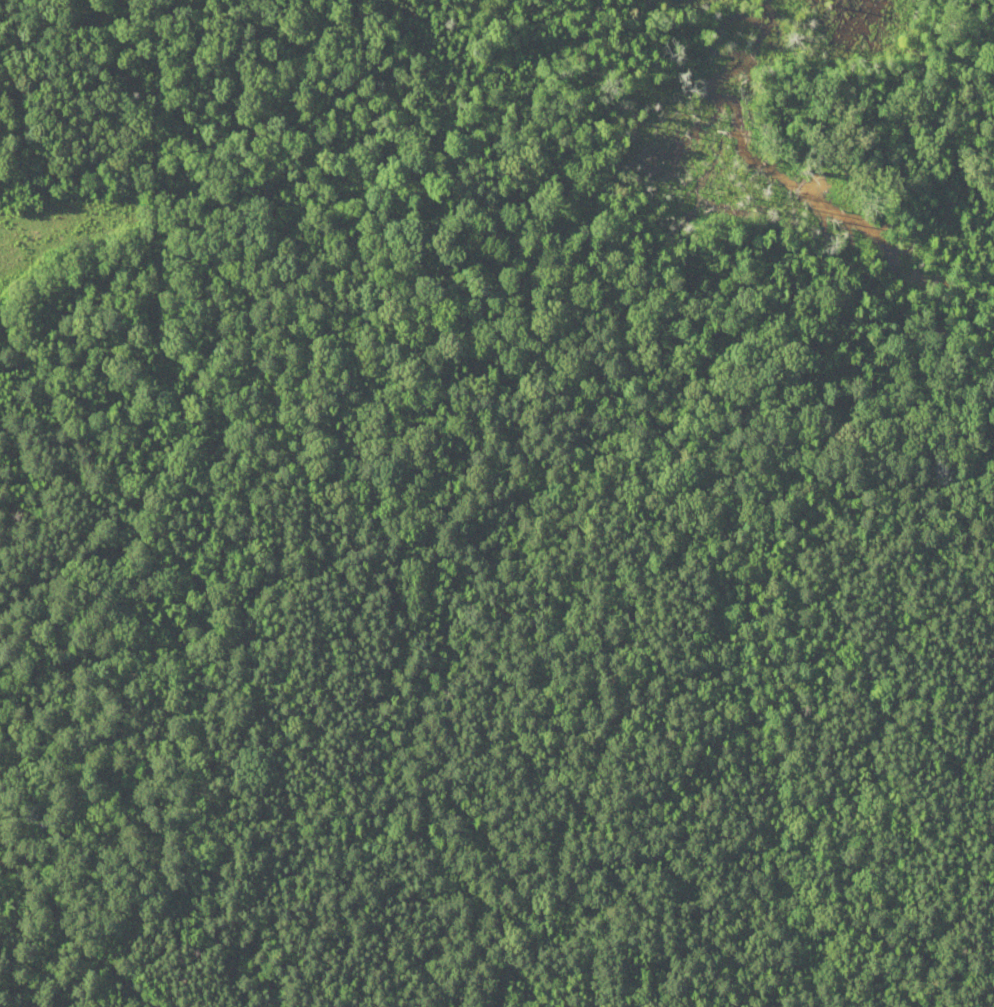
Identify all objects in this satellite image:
road: (77, 951)

